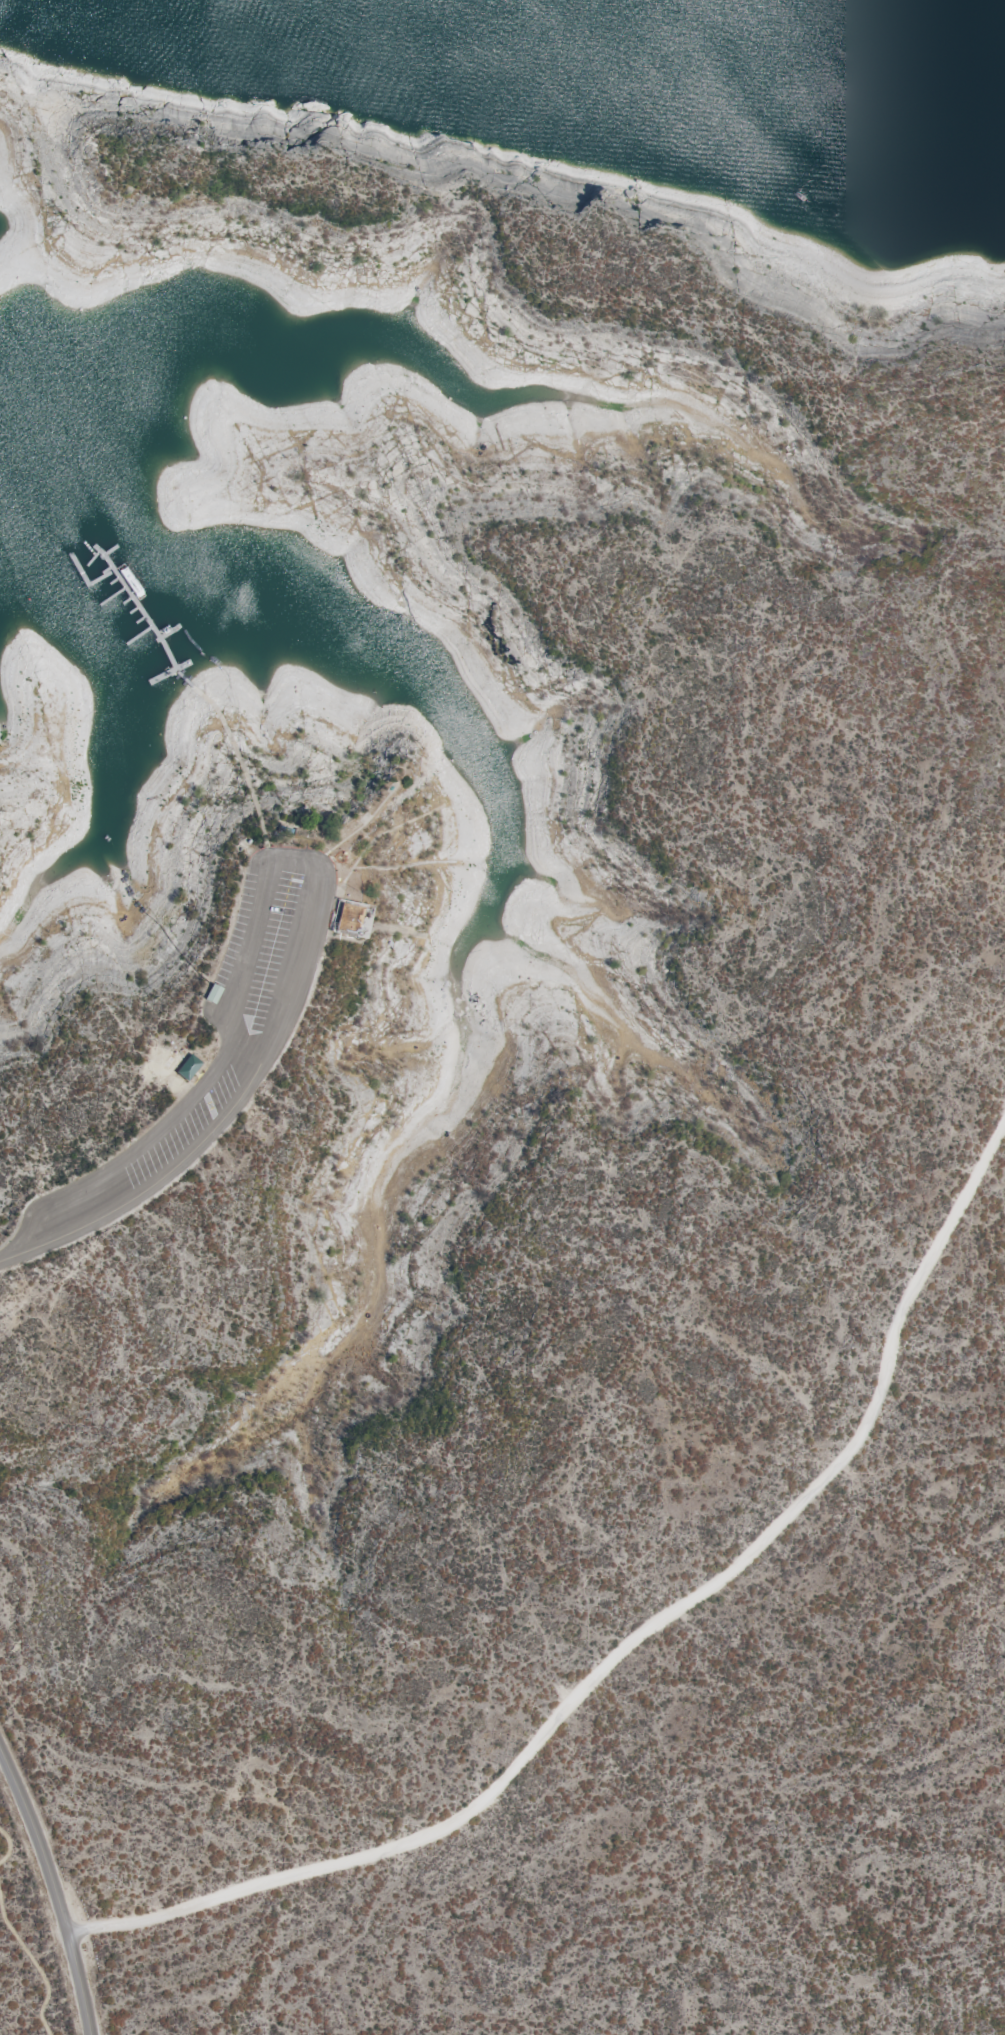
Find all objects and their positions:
road: (309, 862)
building: (351, 919)
building: (212, 994)
building: (349, 1049)
building: (188, 1068)
road: (9, 1257)
road: (631, 1642)
road: (55, 1887)

